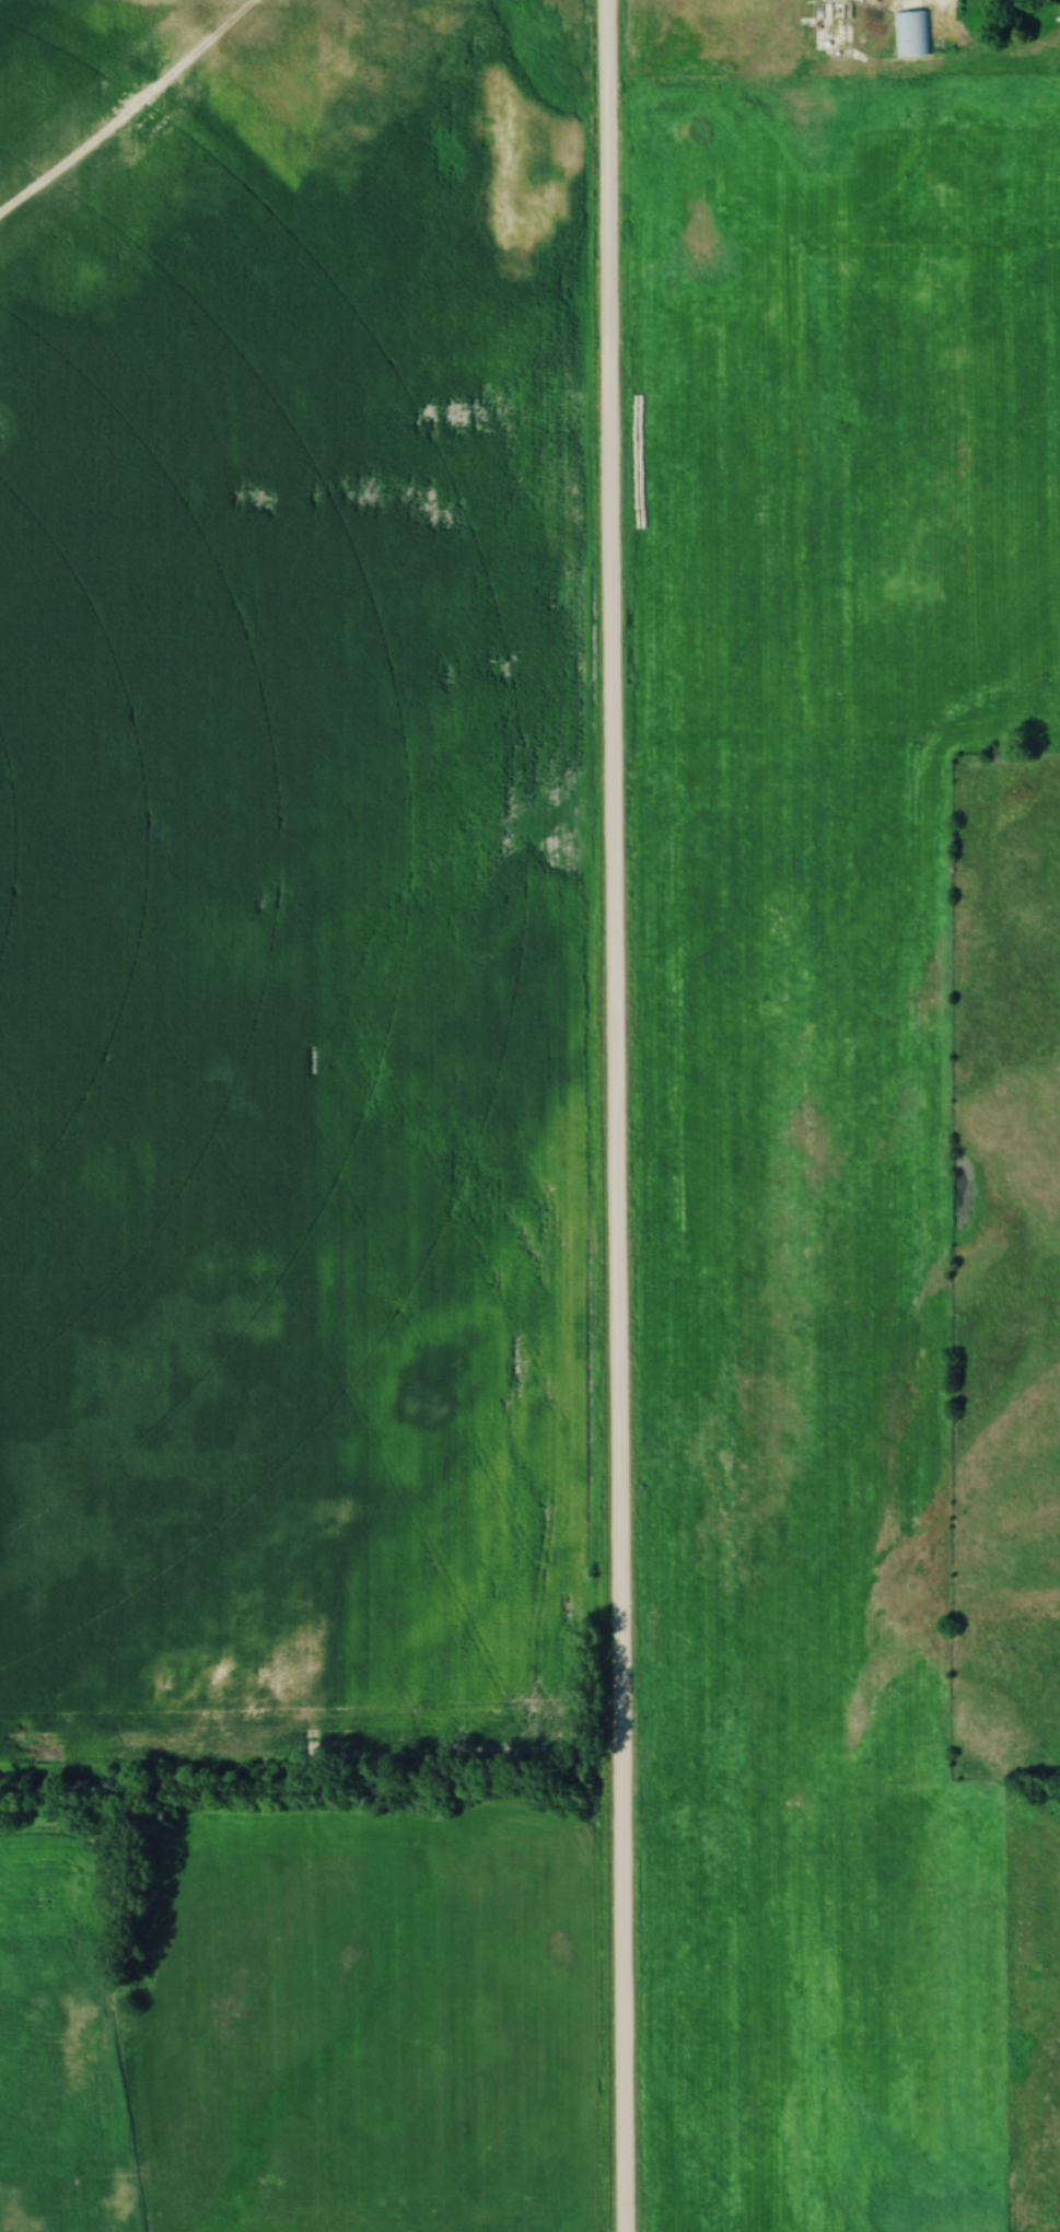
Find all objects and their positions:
building: (909, 33)
road: (993, 49)
road: (615, 1115)

